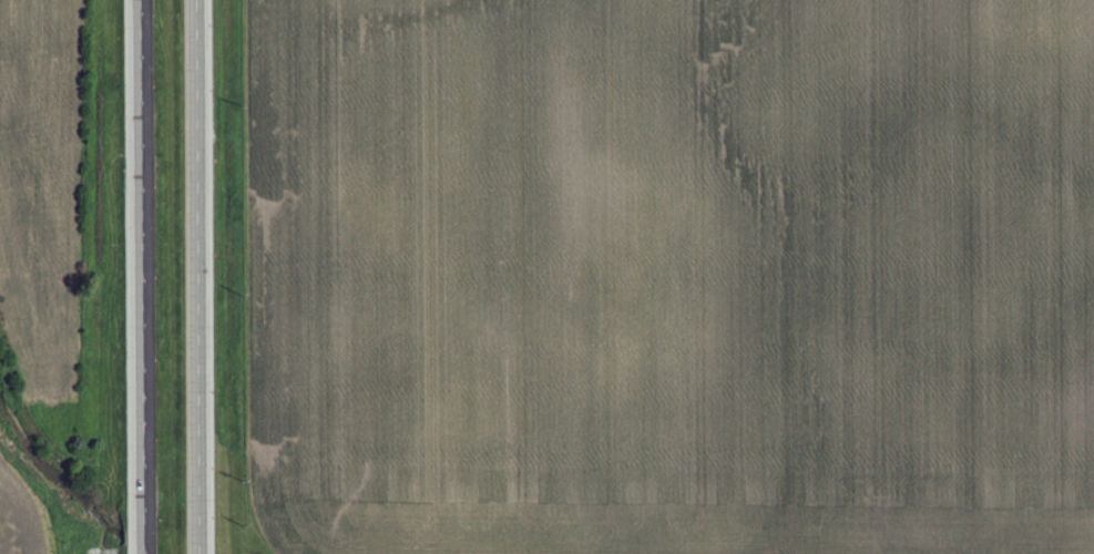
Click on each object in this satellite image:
road: (134, 277)
road: (198, 277)

